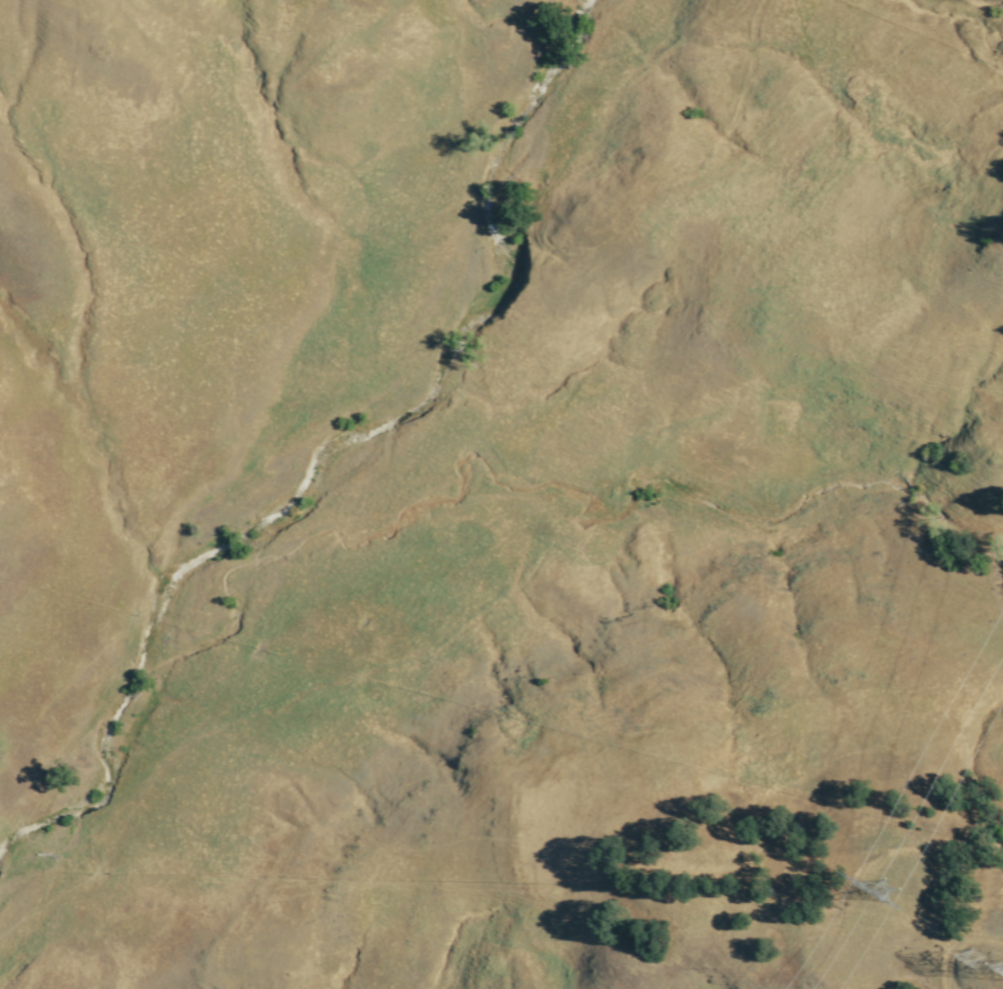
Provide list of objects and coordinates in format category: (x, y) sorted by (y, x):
power tower: (889, 896)
power tower: (977, 957)

